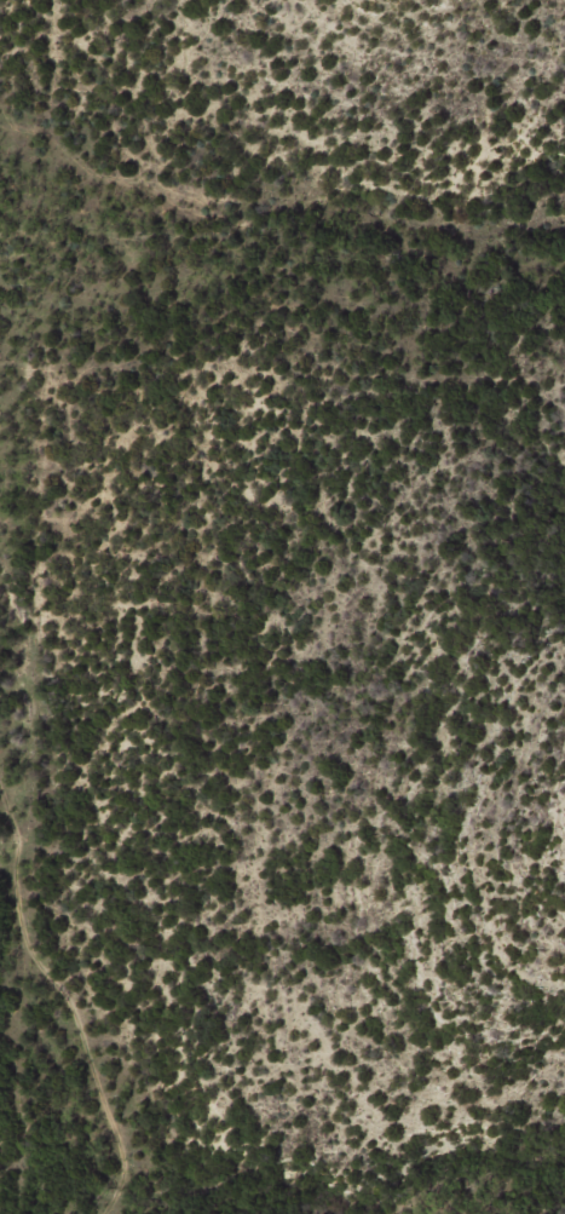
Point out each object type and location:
road: (116, 931)

